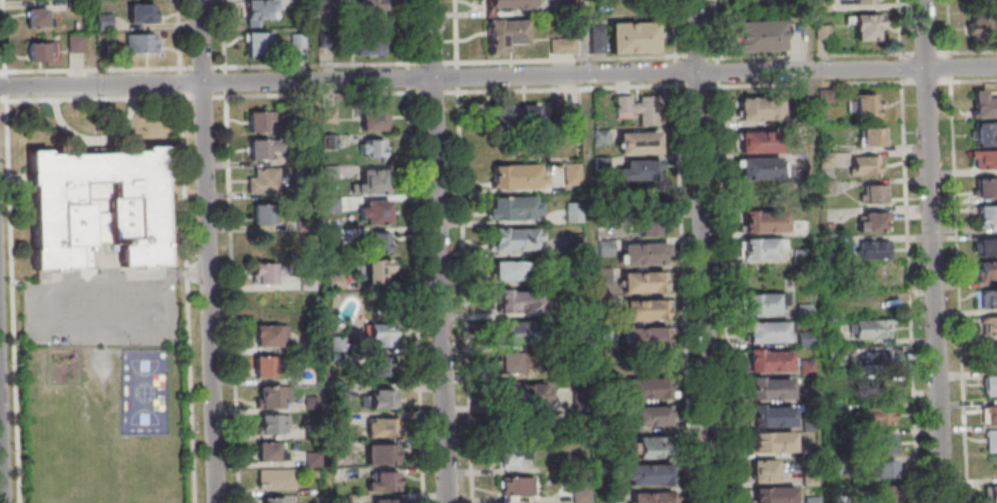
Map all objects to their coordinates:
building: (863, 1)
building: (512, 4)
building: (371, 8)
building: (259, 10)
building: (143, 12)
building: (35, 17)
building: (978, 23)
building: (866, 25)
road: (952, 26)
road: (903, 27)
road: (677, 28)
road: (719, 29)
building: (505, 34)
building: (760, 35)
road: (182, 36)
building: (632, 36)
building: (75, 42)
building: (141, 42)
building: (257, 43)
building: (597, 43)
building: (369, 45)
building: (562, 45)
building: (40, 50)
road: (935, 53)
road: (570, 59)
road: (437, 62)
road: (498, 75)
building: (984, 103)
building: (862, 105)
building: (637, 107)
building: (759, 108)
building: (517, 116)
building: (374, 118)
building: (259, 120)
building: (984, 134)
building: (873, 136)
building: (758, 141)
building: (638, 142)
building: (264, 147)
building: (372, 147)
building: (984, 159)
building: (866, 164)
building: (760, 167)
building: (636, 169)
building: (516, 175)
building: (373, 180)
building: (263, 181)
building: (986, 187)
building: (875, 193)
building: (95, 207)
building: (514, 207)
building: (573, 211)
building: (374, 212)
building: (263, 213)
building: (647, 213)
building: (986, 215)
building: (764, 221)
building: (873, 221)
building: (516, 238)
building: (376, 242)
building: (576, 243)
building: (986, 246)
building: (761, 247)
building: (874, 249)
road: (212, 251)
road: (234, 251)
road: (442, 251)
road: (706, 251)
road: (937, 251)
building: (648, 254)
building: (800, 256)
road: (727, 259)
building: (509, 269)
building: (379, 271)
building: (988, 271)
building: (264, 273)
road: (962, 277)
road: (687, 279)
building: (646, 282)
road: (913, 293)
building: (988, 298)
building: (518, 300)
building: (762, 304)
building: (874, 305)
building: (647, 310)
parking lot: (106, 313)
building: (989, 326)
building: (520, 329)
building: (870, 329)
building: (770, 333)
building: (379, 334)
building: (266, 335)
building: (804, 337)
building: (648, 338)
building: (769, 360)
building: (879, 360)
building: (509, 361)
building: (262, 364)
building: (381, 365)
building: (807, 366)
building: (990, 385)
building: (651, 389)
building: (774, 389)
park: (147, 393)
building: (526, 393)
building: (269, 396)
building: (381, 397)
building: (990, 412)
road: (2, 414)
building: (878, 416)
building: (653, 417)
building: (774, 417)
building: (272, 423)
building: (380, 425)
building: (991, 440)
building: (775, 442)
building: (881, 442)
building: (655, 448)
building: (270, 451)
building: (381, 453)
building: (313, 458)
building: (508, 459)
building: (885, 469)
building: (764, 470)
building: (651, 475)
building: (276, 478)
building: (382, 480)
building: (514, 488)
building: (581, 494)
building: (887, 494)
building: (990, 494)
building: (777, 495)
building: (655, 498)
building: (273, 499)
building: (386, 500)

